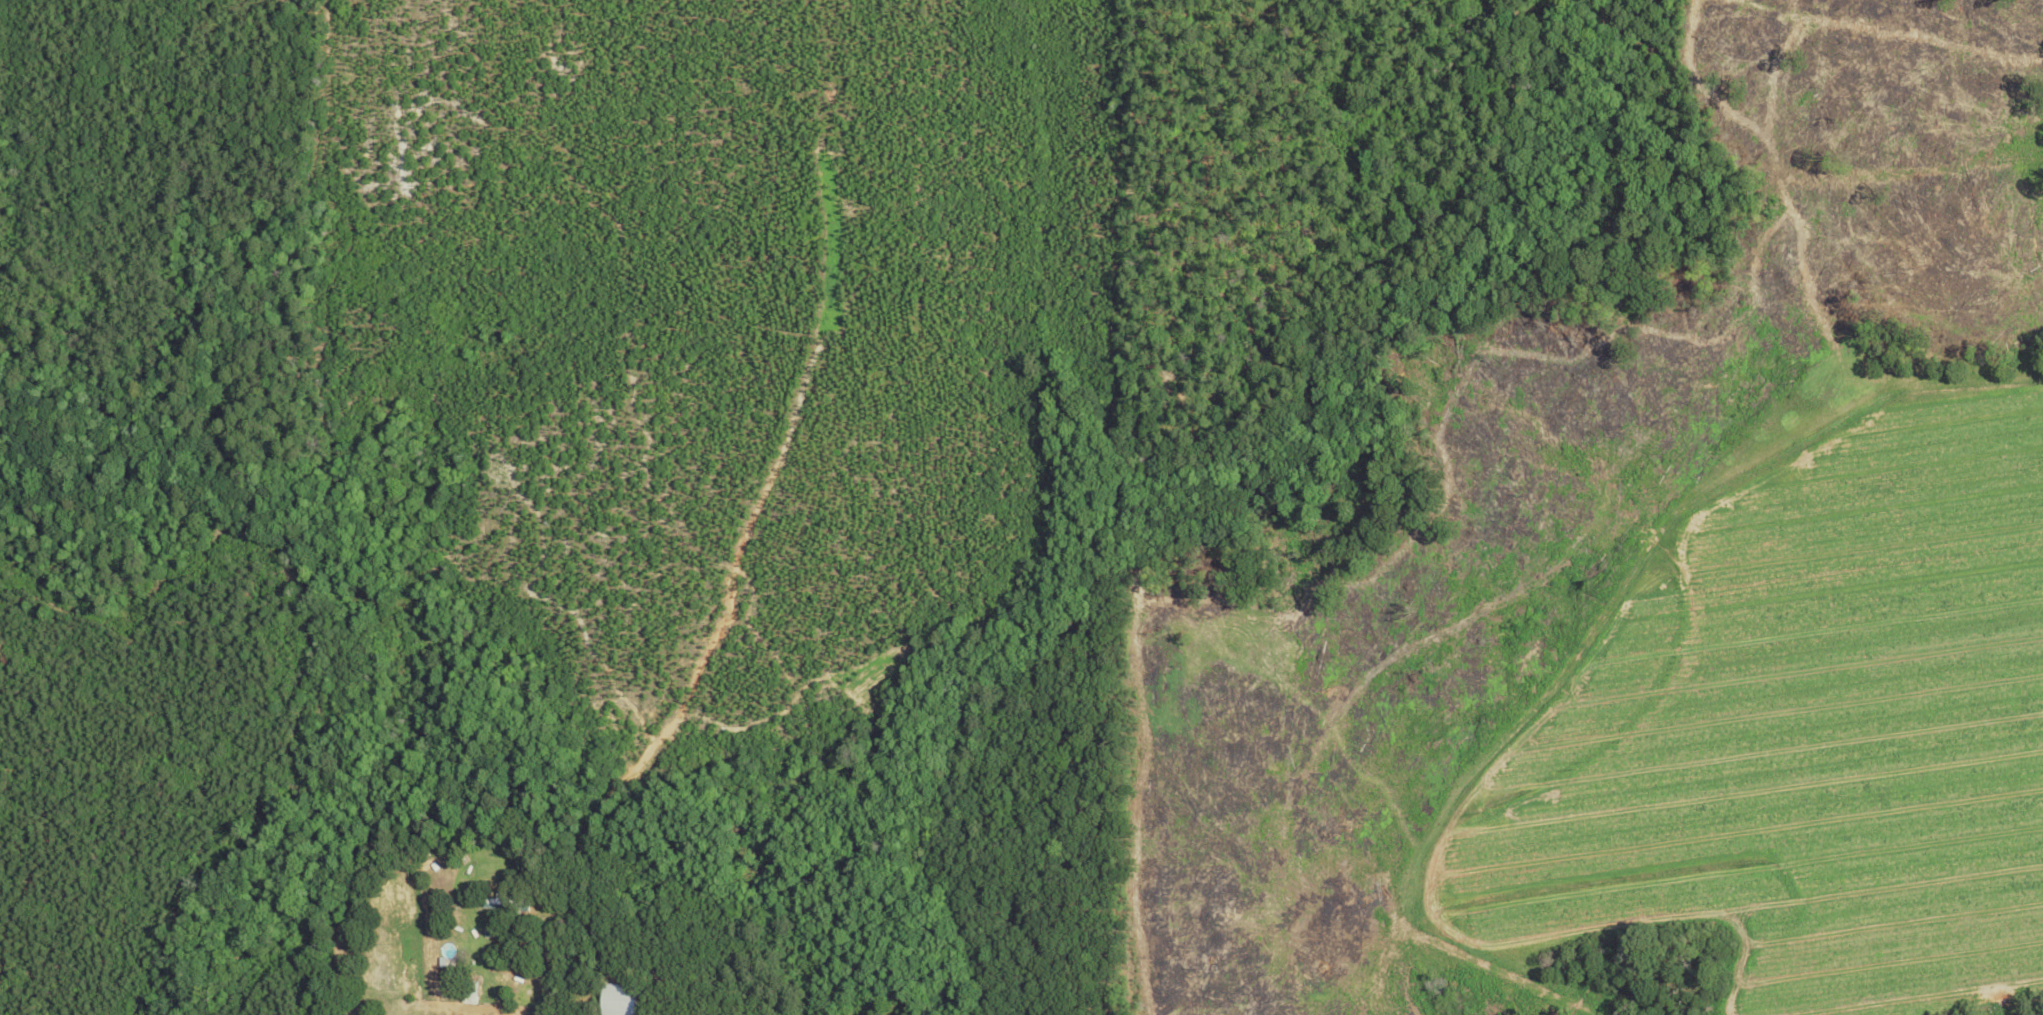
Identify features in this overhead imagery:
building: (489, 902)
road: (524, 970)
building: (618, 999)

